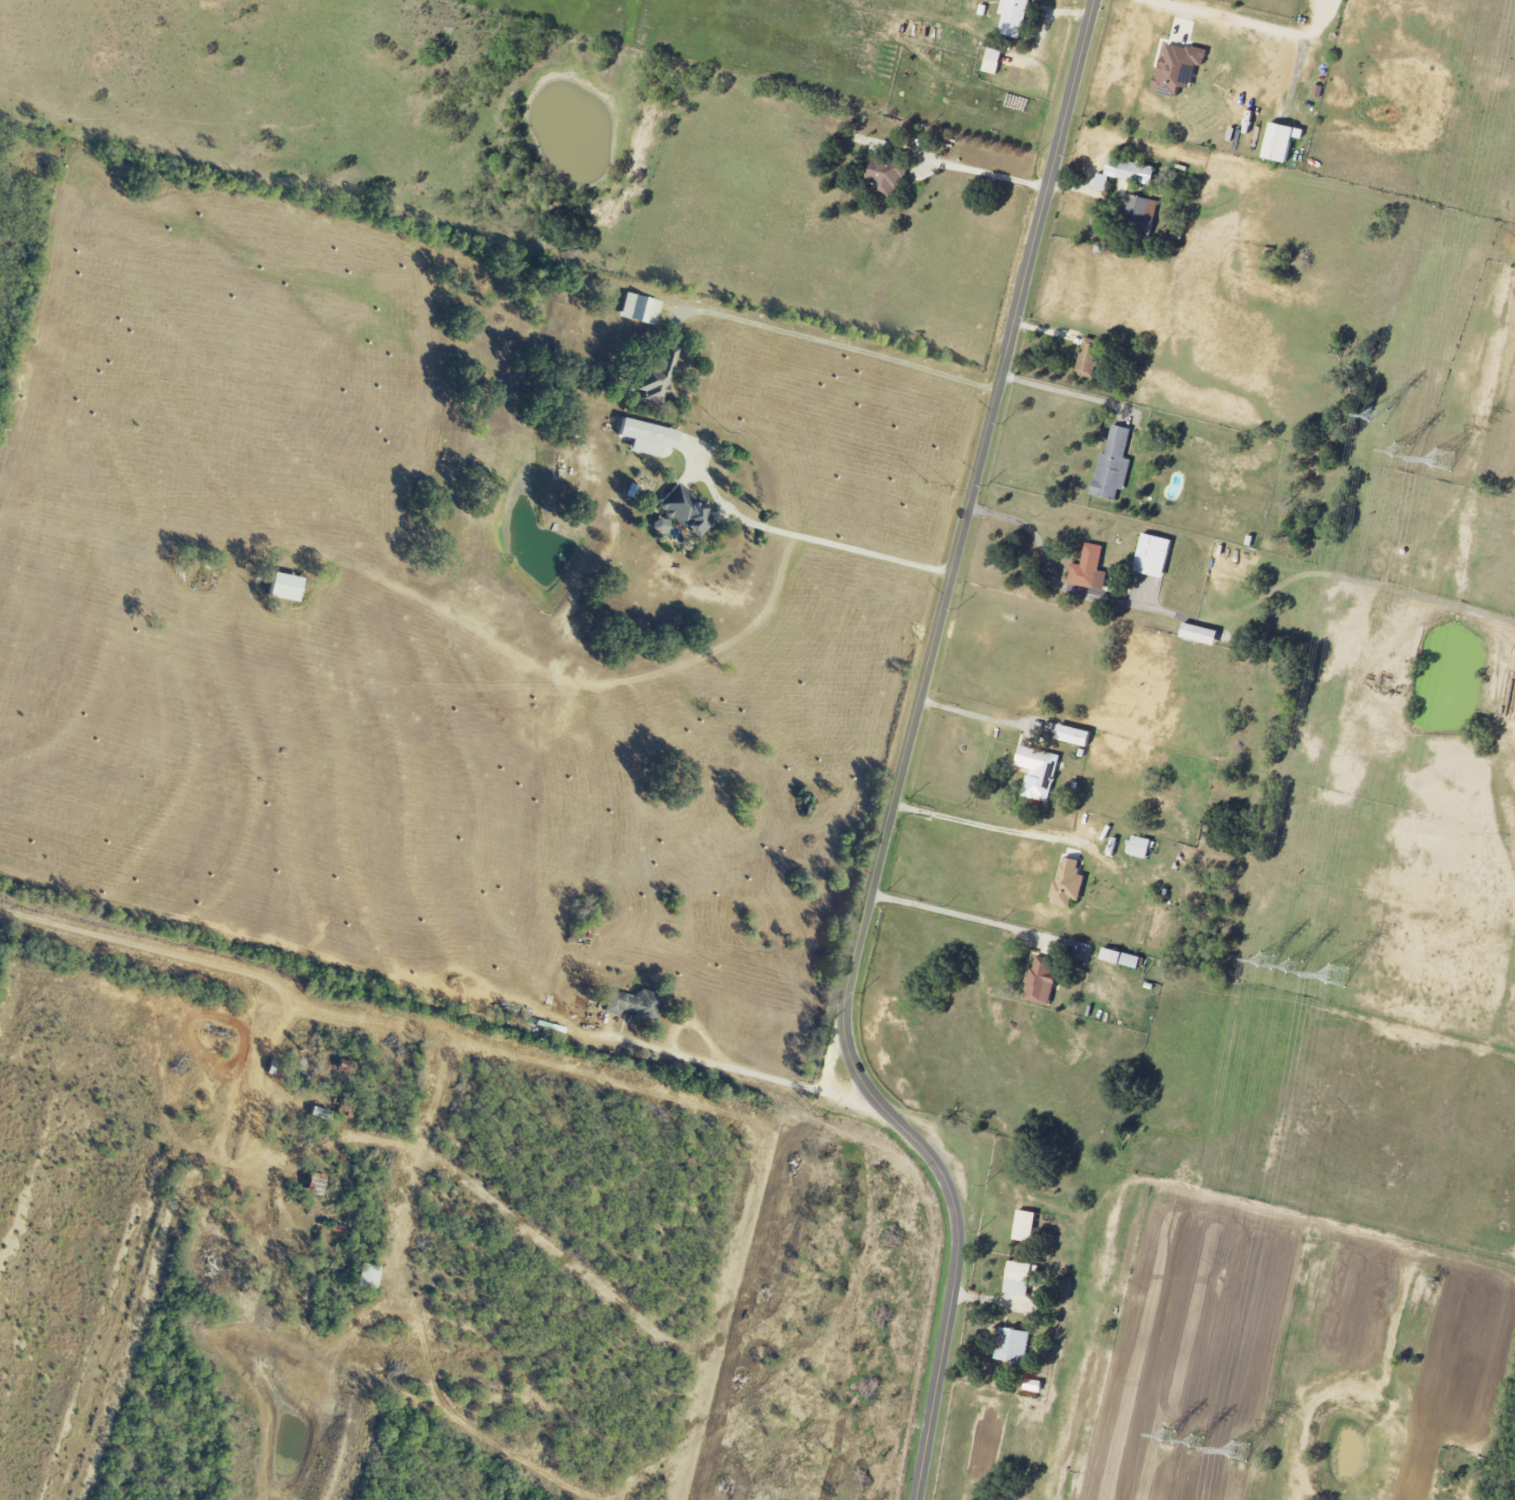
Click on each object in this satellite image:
building: (1013, 17)
road: (1245, 19)
building: (993, 62)
building: (1179, 69)
building: (1281, 143)
road: (989, 172)
building: (1126, 174)
building: (887, 176)
building: (1141, 212)
building: (639, 309)
road: (844, 348)
building: (1088, 358)
building: (657, 378)
road: (1069, 394)
power tower: (1380, 416)
building: (646, 437)
power tower: (1402, 452)
power tower: (1445, 460)
building: (1113, 465)
building: (685, 511)
building: (659, 526)
road: (824, 539)
building: (1153, 556)
road: (1051, 568)
building: (1089, 569)
building: (285, 588)
building: (1200, 635)
road: (975, 712)
building: (1075, 736)
road: (903, 761)
building: (1040, 772)
road: (983, 822)
building: (1140, 847)
building: (1069, 884)
road: (975, 917)
building: (1121, 959)
power tower: (1268, 962)
power tower: (1297, 968)
power tower: (1335, 976)
building: (1041, 982)
building: (633, 1004)
road: (741, 1071)
building: (1025, 1226)
building: (1019, 1279)
building: (1013, 1345)
power tower: (1169, 1437)
power tower: (1198, 1444)
power tower: (1239, 1454)

